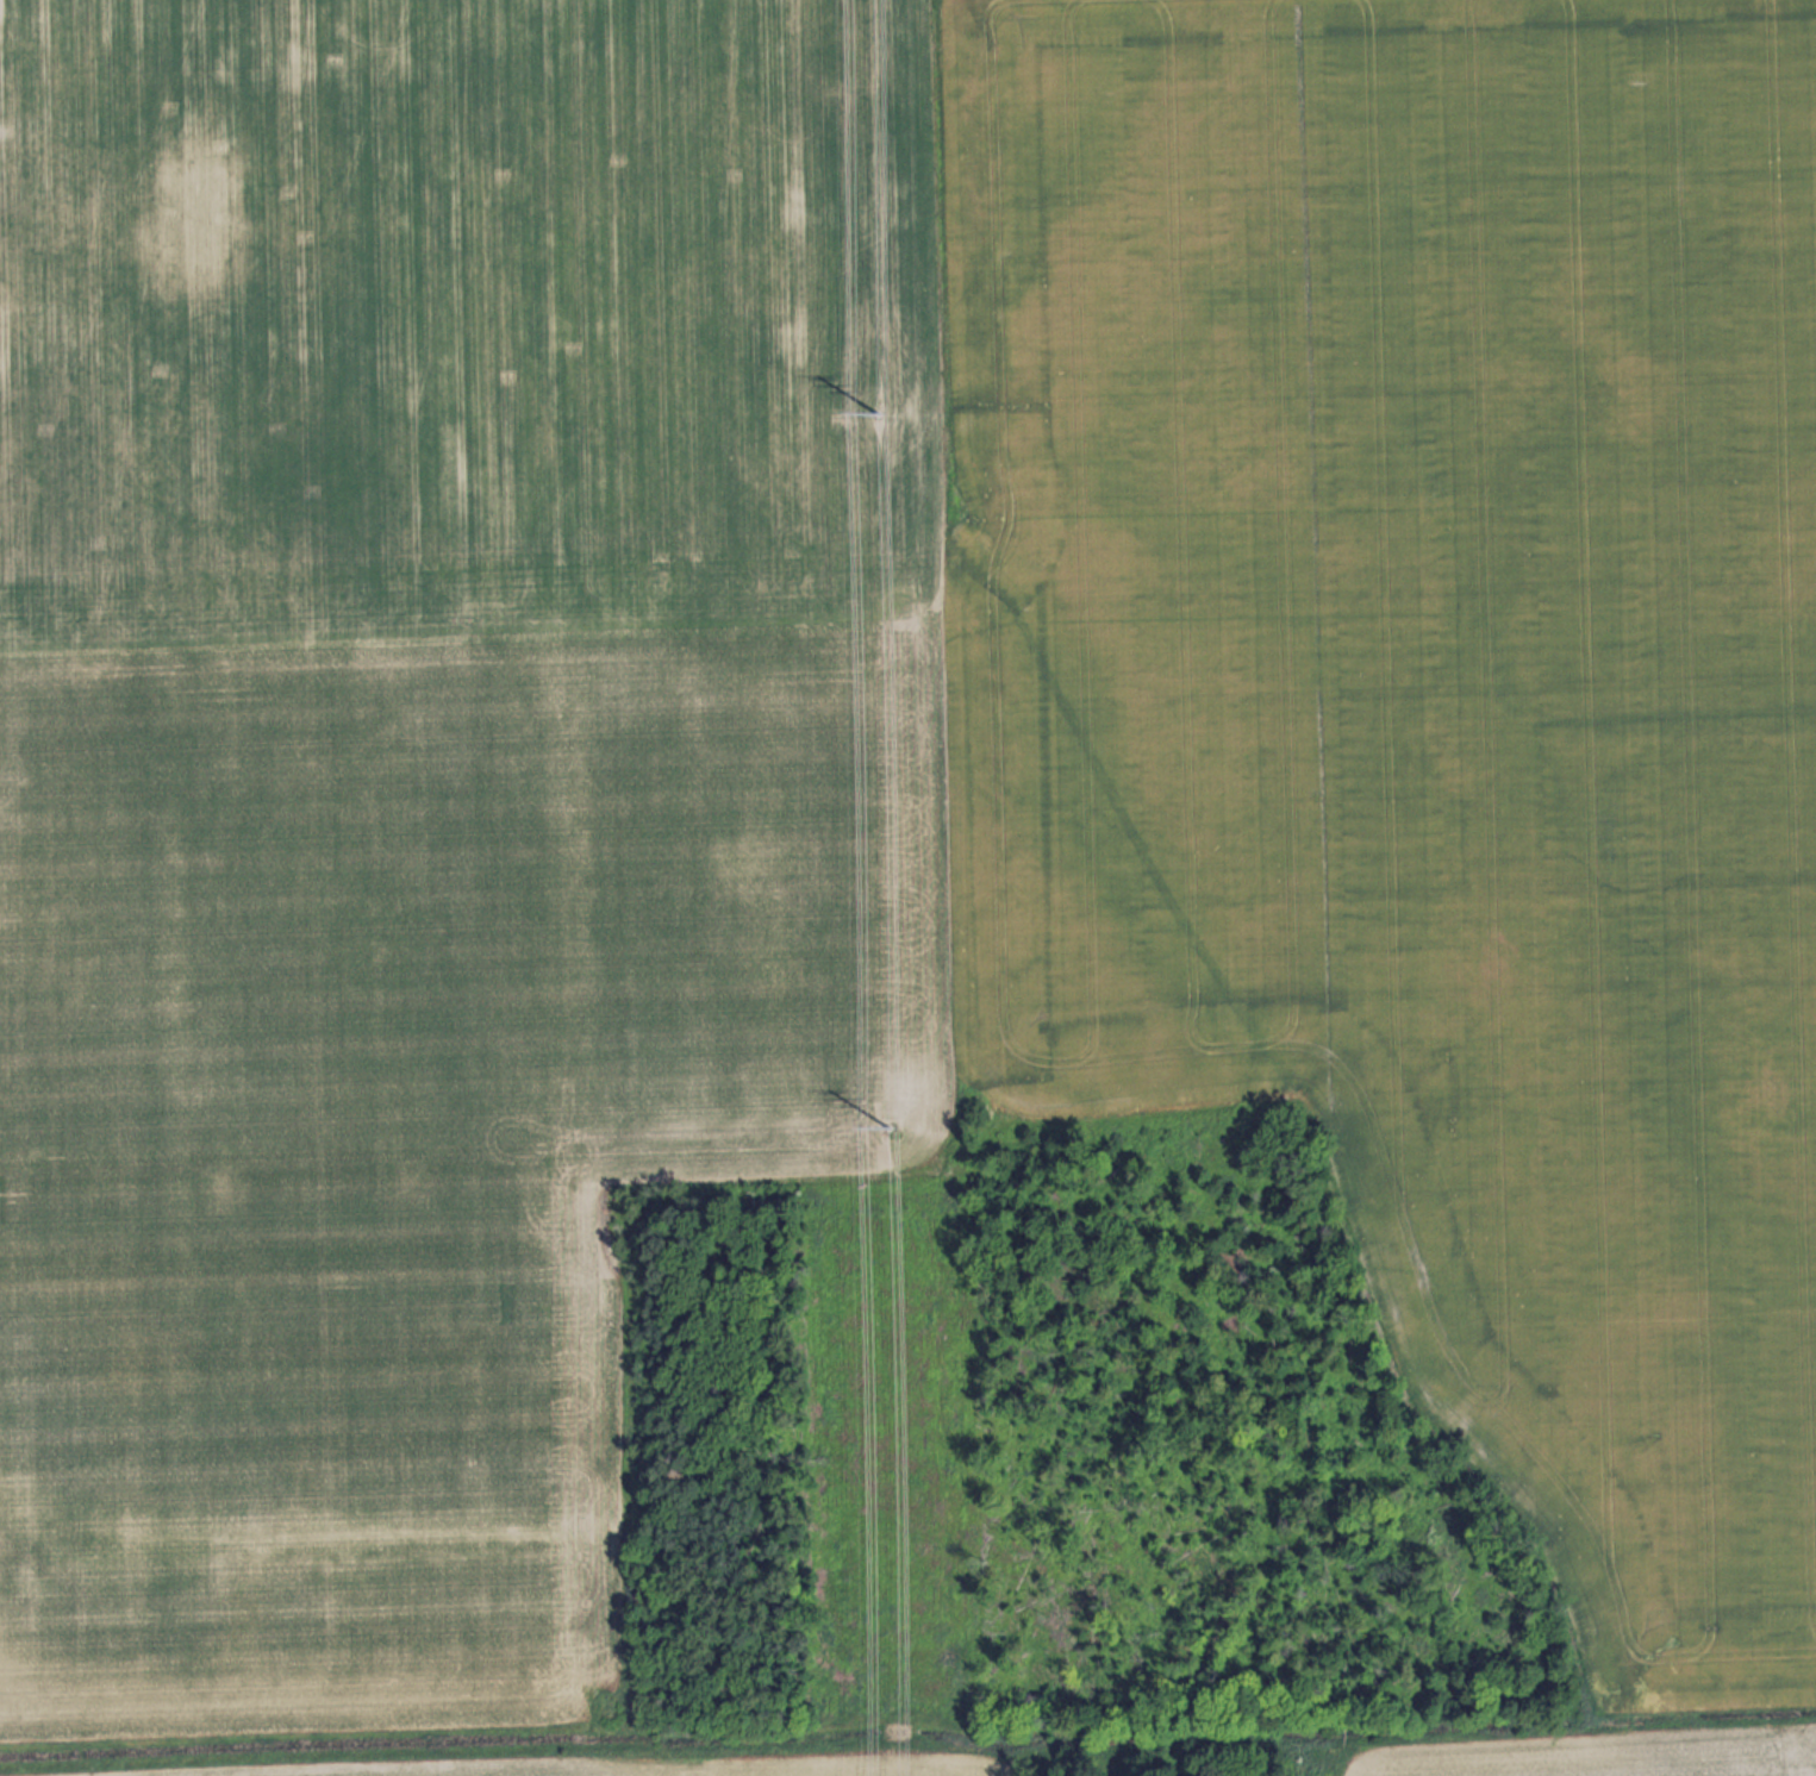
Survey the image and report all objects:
power tower: (876, 408)
power tower: (885, 1118)

